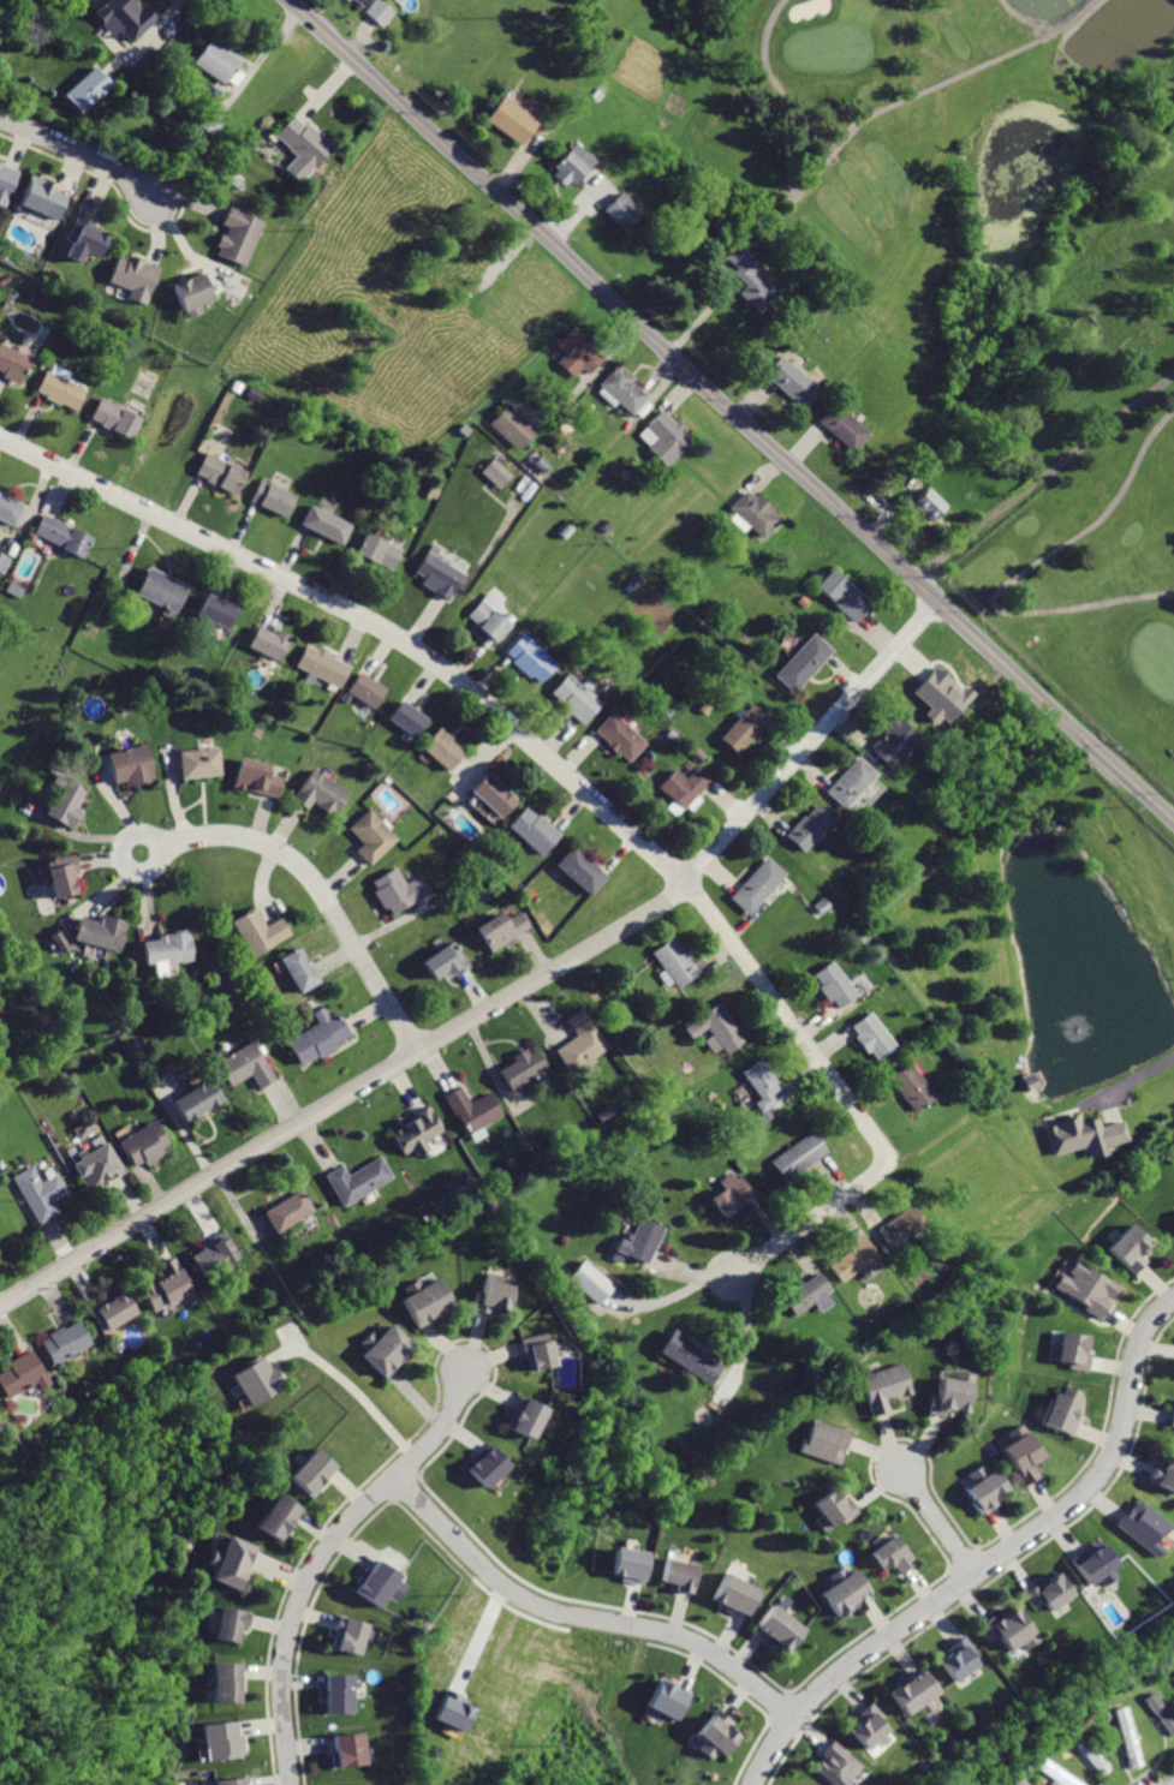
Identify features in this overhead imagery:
building: (357, 2)
building: (376, 12)
building: (124, 18)
road: (143, 43)
park: (832, 50)
road: (256, 61)
building: (213, 62)
road: (771, 82)
road: (934, 85)
building: (85, 89)
road: (323, 90)
building: (207, 121)
building: (511, 121)
building: (300, 149)
road: (79, 153)
building: (568, 165)
building: (5, 184)
building: (40, 199)
building: (619, 211)
building: (234, 235)
building: (81, 240)
road: (491, 270)
building: (745, 275)
building: (132, 280)
park: (996, 292)
building: (189, 294)
building: (574, 353)
building: (12, 363)
road: (586, 377)
building: (788, 380)
building: (59, 389)
building: (620, 390)
road: (731, 410)
building: (115, 417)
building: (511, 426)
building: (841, 428)
building: (461, 430)
road: (1101, 431)
building: (665, 437)
building: (217, 471)
building: (494, 472)
building: (270, 499)
building: (926, 506)
building: (8, 509)
building: (752, 513)
building: (322, 524)
building: (61, 536)
road: (972, 536)
building: (376, 551)
building: (2, 561)
building: (437, 572)
road: (1021, 574)
building: (161, 590)
building: (839, 593)
building: (215, 613)
building: (487, 617)
road: (369, 620)
building: (267, 641)
park: (1158, 657)
building: (531, 659)
building: (801, 662)
building: (320, 664)
building: (364, 689)
building: (942, 697)
building: (576, 698)
building: (405, 718)
building: (741, 730)
building: (619, 738)
building: (890, 740)
road: (812, 744)
building: (441, 748)
building: (197, 762)
building: (133, 765)
building: (256, 777)
building: (847, 783)
building: (683, 786)
building: (318, 794)
building: (494, 795)
building: (66, 802)
building: (806, 830)
building: (532, 831)
building: (373, 836)
building: (579, 871)
building: (64, 873)
road: (317, 885)
building: (756, 885)
building: (398, 890)
building: (500, 930)
building: (258, 931)
building: (102, 932)
building: (61, 941)
building: (171, 948)
building: (446, 961)
building: (673, 966)
building: (297, 968)
building: (835, 989)
fountain: (1080, 1026)
building: (711, 1028)
building: (320, 1034)
building: (870, 1037)
building: (580, 1041)
building: (243, 1065)
building: (522, 1069)
building: (761, 1082)
road: (1124, 1083)
building: (910, 1086)
road: (345, 1094)
road: (846, 1096)
building: (197, 1100)
building: (472, 1110)
building: (83, 1128)
building: (418, 1132)
building: (1084, 1135)
building: (144, 1146)
building: (798, 1157)
building: (95, 1164)
building: (356, 1181)
building: (732, 1195)
building: (37, 1196)
building: (286, 1211)
building: (899, 1226)
building: (642, 1240)
building: (1127, 1248)
building: (213, 1256)
building: (852, 1259)
road: (677, 1266)
building: (590, 1283)
building: (165, 1286)
building: (1087, 1288)
building: (808, 1295)
building: (490, 1297)
road: (673, 1297)
building: (425, 1301)
building: (107, 1312)
road: (746, 1338)
building: (60, 1342)
building: (382, 1349)
building: (535, 1350)
building: (1072, 1351)
building: (689, 1356)
building: (18, 1373)
building: (256, 1378)
road: (347, 1386)
building: (881, 1386)
building: (944, 1392)
building: (1062, 1409)
building: (1169, 1417)
building: (525, 1419)
building: (823, 1443)
building: (1020, 1455)
building: (483, 1465)
building: (312, 1471)
building: (1162, 1474)
building: (982, 1488)
building: (830, 1509)
building: (278, 1518)
road: (938, 1523)
building: (1140, 1527)
road: (322, 1557)
building: (893, 1557)
building: (231, 1562)
road: (995, 1562)
building: (631, 1564)
building: (1096, 1566)
building: (680, 1574)
building: (376, 1584)
building: (841, 1593)
building: (1047, 1593)
building: (737, 1594)
road: (583, 1619)
building: (230, 1623)
building: (780, 1629)
building: (1008, 1631)
building: (351, 1635)
building: (957, 1658)
building: (225, 1683)
building: (340, 1693)
building: (913, 1695)
building: (665, 1700)
building: (449, 1711)
building: (1162, 1712)
building: (869, 1725)
building: (1130, 1736)
building: (716, 1737)
building: (224, 1741)
building: (350, 1750)
building: (1091, 1755)
building: (839, 1766)
building: (1057, 1773)
building: (230, 1781)
building: (366, 1784)

